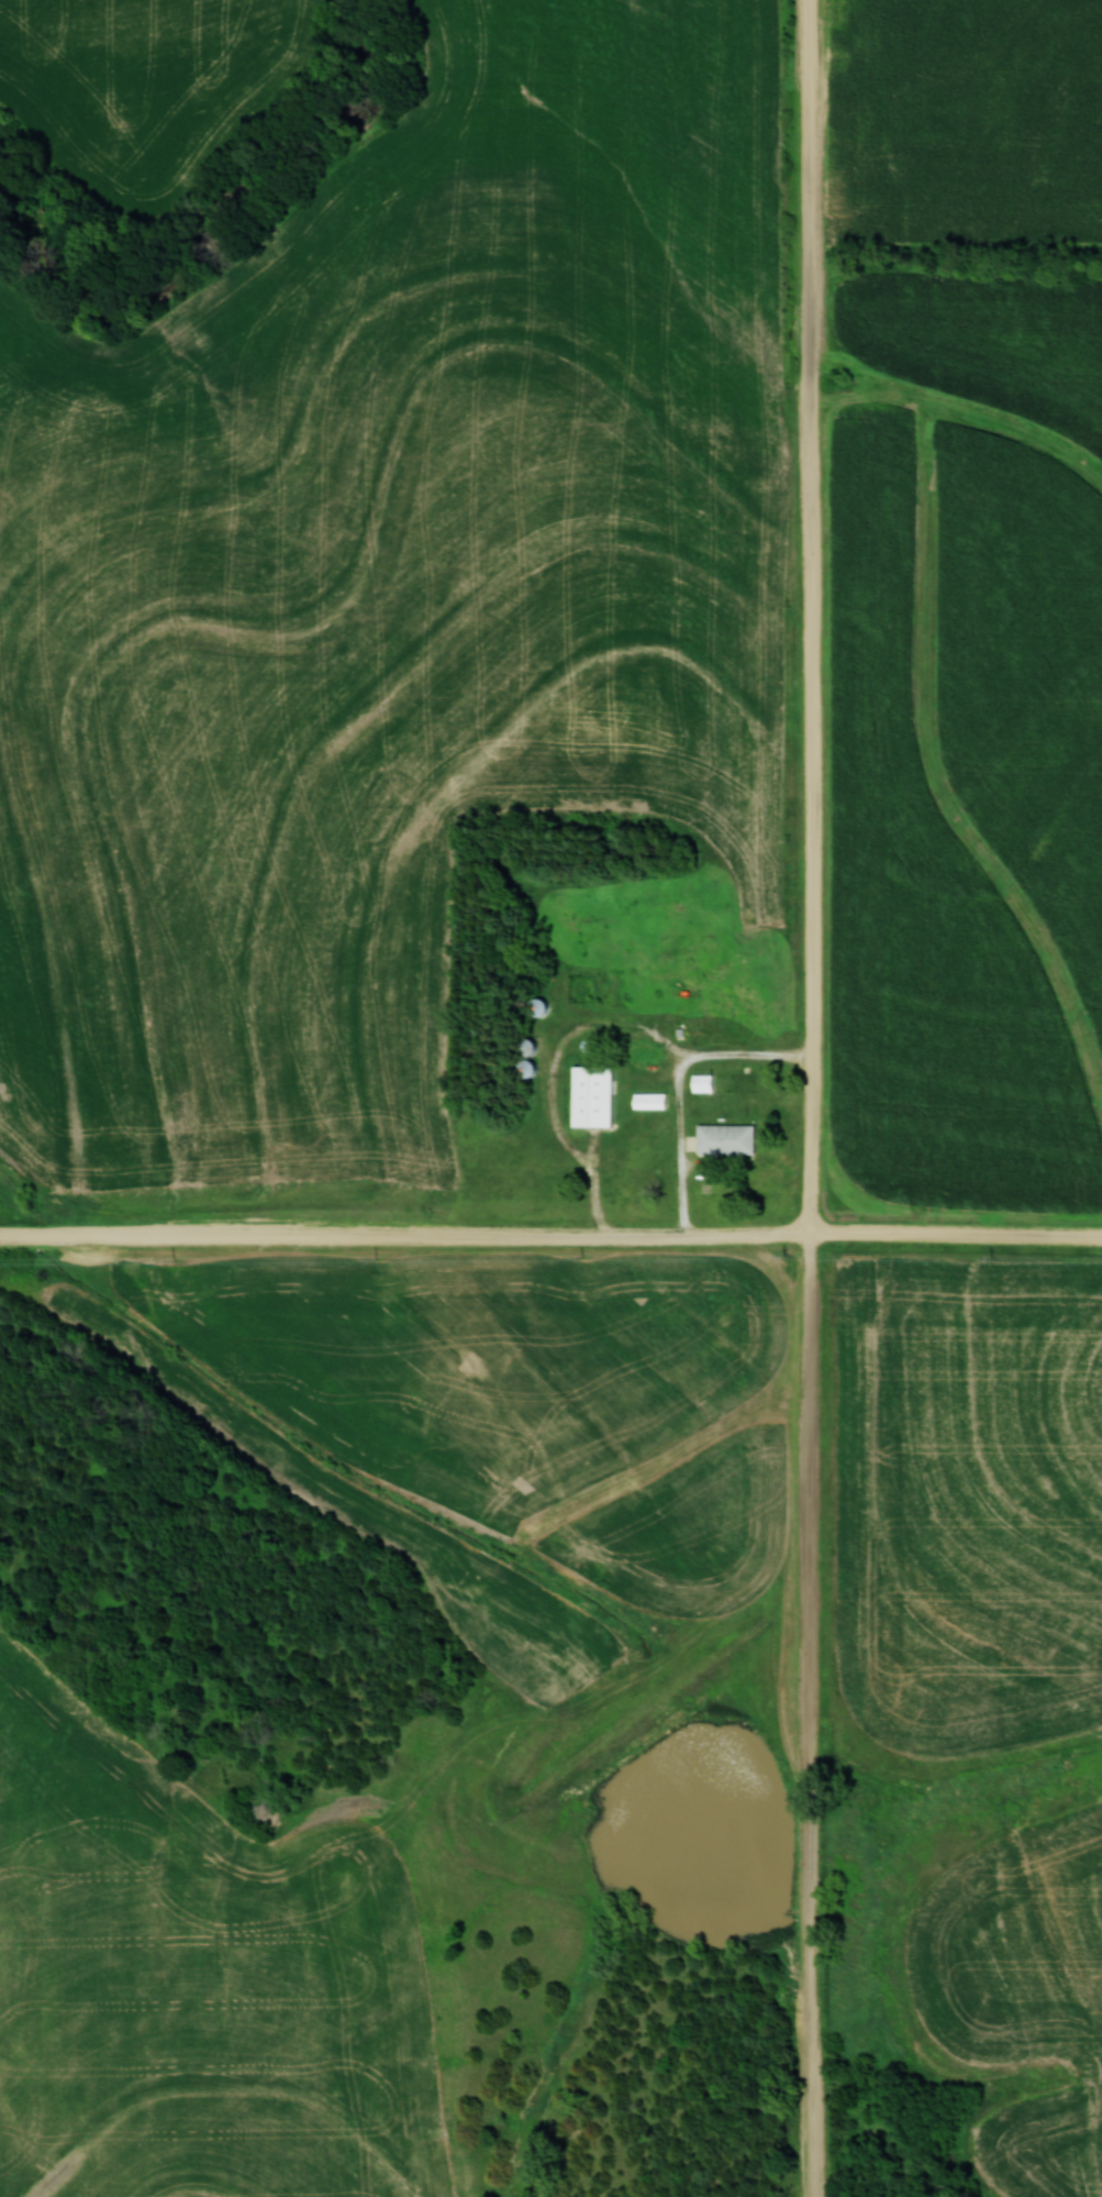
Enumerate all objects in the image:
building: (742, 1009)
building: (700, 1022)
building: (648, 1056)
building: (706, 1082)
road: (682, 1090)
building: (599, 1097)
road: (814, 1098)
building: (653, 1100)
building: (731, 1139)
road: (550, 1240)

